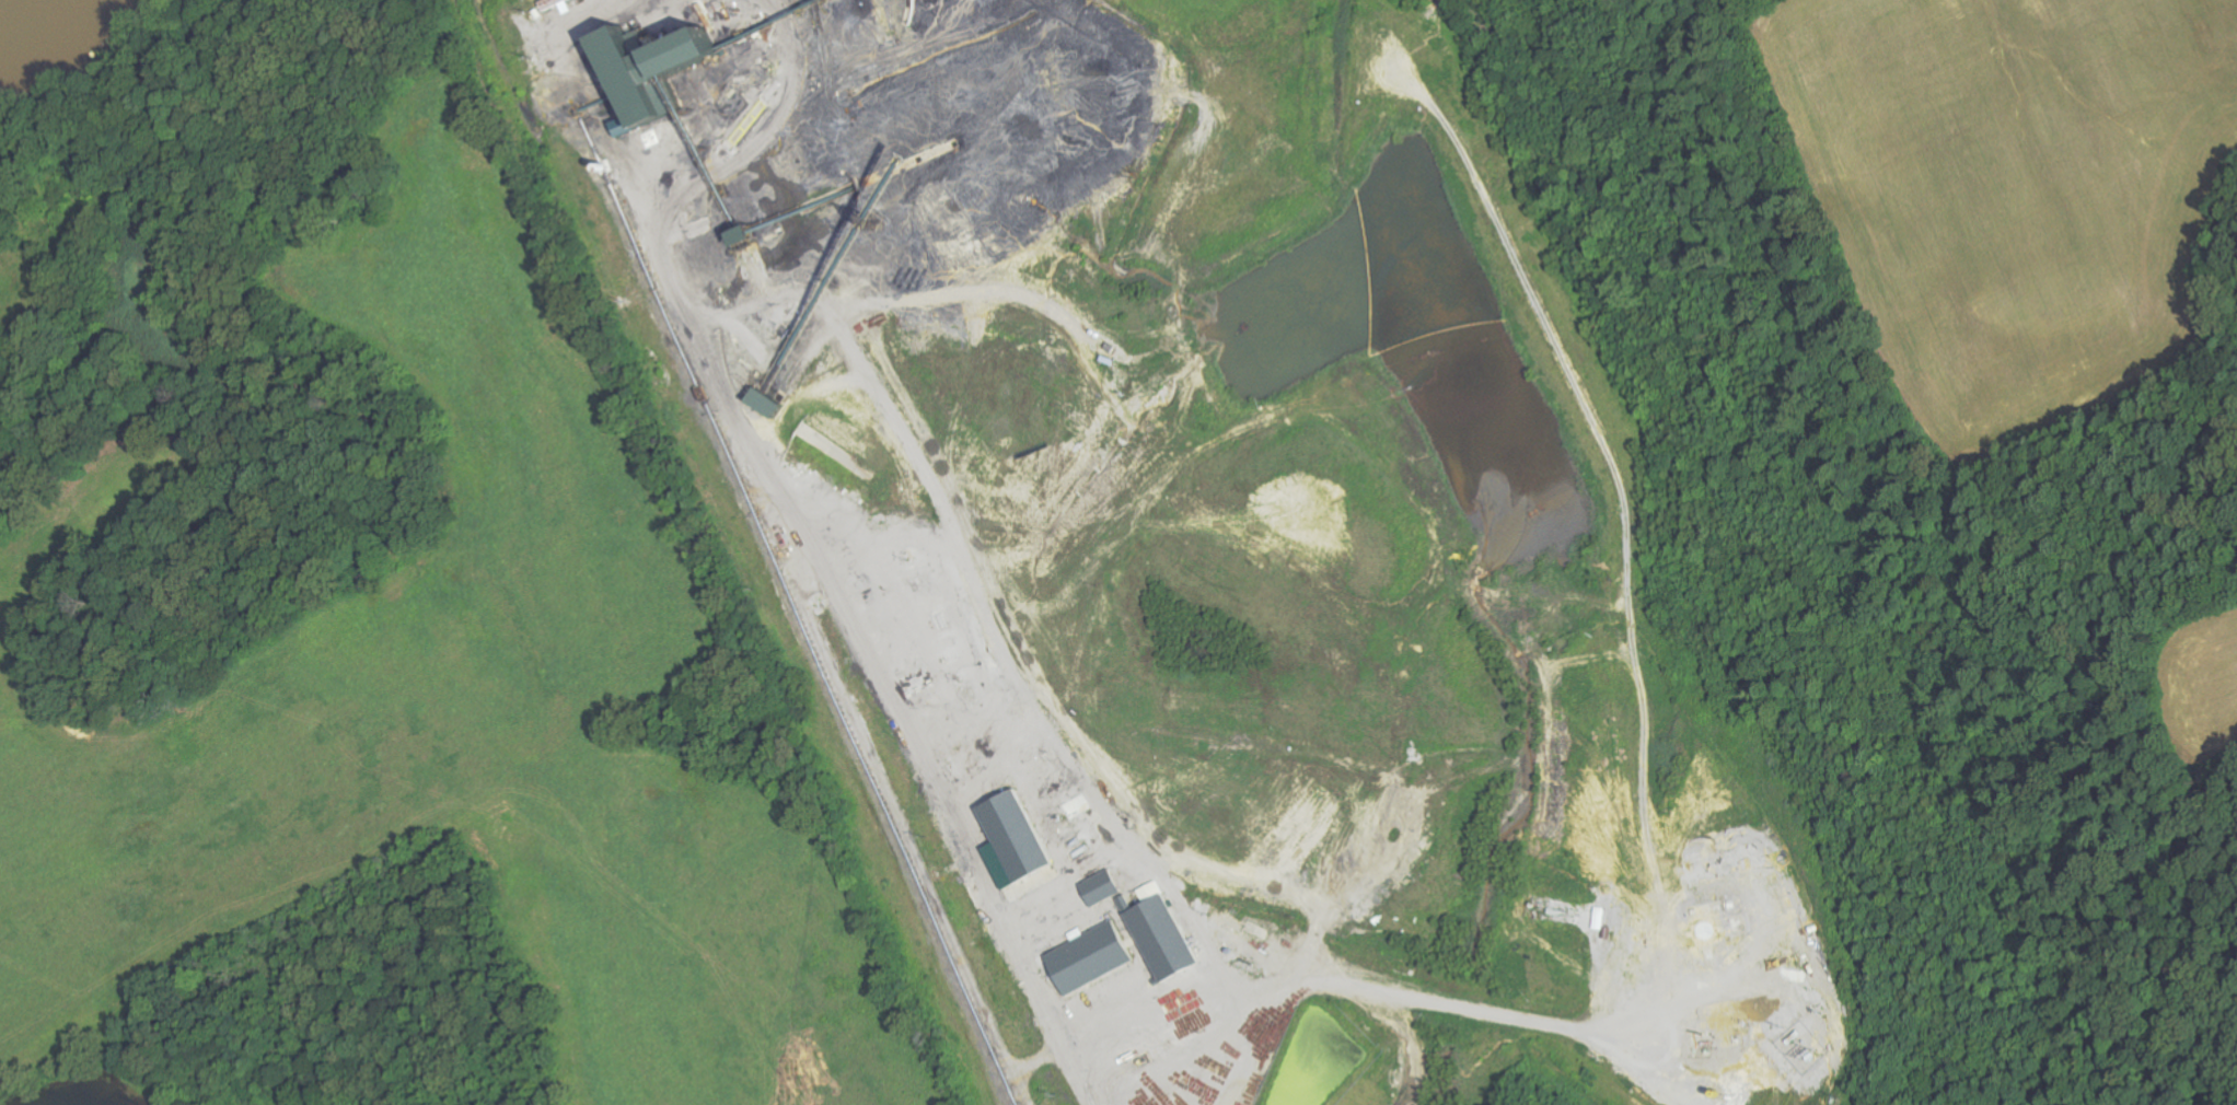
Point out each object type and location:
building: (654, 68)
building: (752, 232)
building: (773, 402)
road: (1549, 462)
building: (1019, 839)
building: (1108, 887)
building: (1168, 933)
building: (1096, 958)

